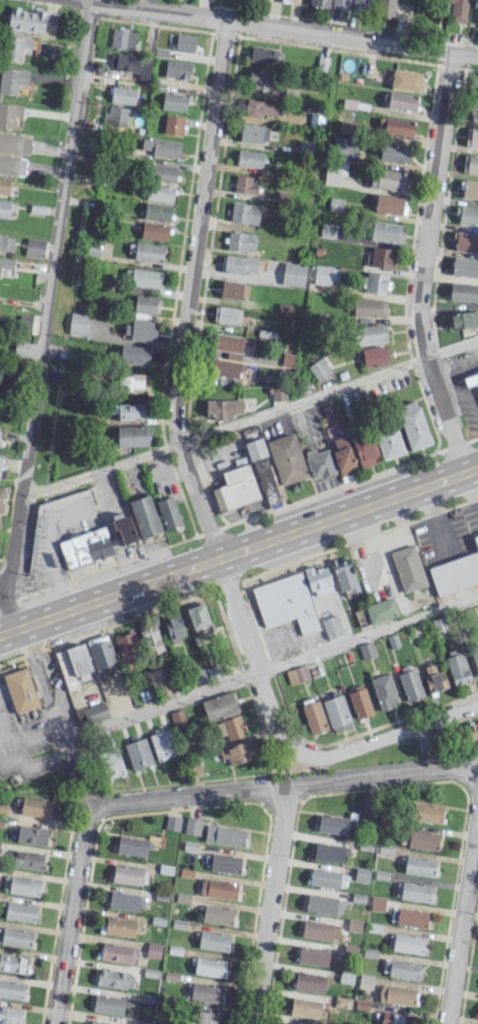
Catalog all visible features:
road: (102, 2)
building: (319, 3)
building: (340, 4)
building: (360, 5)
building: (385, 7)
building: (457, 10)
building: (30, 20)
road: (270, 26)
building: (122, 38)
building: (184, 43)
building: (16, 48)
building: (263, 54)
building: (130, 64)
building: (177, 69)
building: (12, 80)
building: (405, 80)
building: (258, 82)
building: (476, 89)
building: (122, 95)
building: (402, 100)
building: (174, 102)
building: (259, 108)
building: (474, 111)
building: (10, 115)
building: (115, 116)
building: (173, 125)
building: (396, 126)
building: (254, 133)
building: (472, 137)
building: (14, 143)
building: (161, 147)
building: (392, 152)
building: (249, 158)
building: (470, 164)
building: (12, 165)
building: (161, 172)
building: (392, 179)
building: (244, 184)
building: (4, 185)
building: (470, 189)
building: (160, 192)
building: (336, 204)
building: (388, 204)
building: (4, 208)
building: (156, 211)
building: (244, 213)
building: (466, 215)
building: (154, 231)
building: (386, 231)
building: (240, 241)
building: (6, 242)
building: (466, 242)
building: (34, 247)
building: (92, 248)
building: (146, 251)
building: (381, 257)
building: (6, 262)
building: (240, 264)
road: (426, 264)
building: (465, 267)
building: (293, 273)
building: (322, 274)
building: (142, 277)
building: (374, 283)
building: (233, 290)
building: (464, 292)
building: (145, 304)
road: (48, 307)
building: (369, 307)
building: (227, 315)
building: (462, 320)
building: (78, 324)
building: (138, 330)
building: (369, 334)
building: (230, 345)
building: (20, 348)
road: (452, 348)
building: (134, 354)
building: (373, 355)
road: (477, 358)
building: (288, 359)
road: (461, 364)
building: (320, 369)
building: (0, 371)
building: (471, 379)
building: (131, 381)
building: (277, 393)
road: (466, 393)
road: (177, 397)
road: (303, 399)
building: (329, 407)
building: (222, 408)
building: (130, 411)
building: (332, 424)
building: (412, 424)
building: (133, 436)
building: (388, 442)
building: (255, 448)
building: (365, 449)
building: (343, 456)
building: (287, 458)
building: (0, 460)
building: (319, 462)
road: (101, 468)
building: (235, 488)
building: (1, 497)
building: (169, 512)
building: (145, 516)
road: (56, 518)
building: (124, 529)
building: (476, 540)
building: (85, 547)
road: (238, 550)
building: (408, 568)
building: (455, 574)
building: (287, 603)
building: (381, 610)
building: (197, 615)
road: (5, 616)
building: (333, 627)
building: (174, 628)
building: (151, 639)
building: (127, 650)
building: (366, 650)
building: (101, 654)
building: (474, 656)
building: (79, 662)
road: (285, 662)
building: (456, 665)
building: (162, 681)
building: (435, 681)
building: (410, 682)
building: (20, 690)
building: (383, 691)
building: (359, 701)
building: (219, 706)
building: (91, 713)
building: (336, 713)
building: (177, 716)
building: (313, 717)
building: (233, 727)
road: (61, 731)
building: (471, 731)
road: (387, 734)
building: (162, 744)
building: (237, 752)
building: (137, 753)
building: (111, 763)
road: (295, 770)
road: (80, 780)
road: (283, 787)
building: (35, 807)
building: (3, 808)
building: (425, 812)
building: (173, 823)
building: (337, 824)
building: (193, 826)
building: (31, 834)
building: (224, 835)
building: (423, 840)
building: (133, 845)
building: (190, 846)
building: (330, 852)
building: (27, 860)
building: (225, 863)
building: (418, 866)
building: (166, 869)
building: (187, 872)
building: (361, 874)
building: (127, 875)
building: (327, 878)
building: (21, 885)
building: (218, 888)
building: (412, 891)
building: (126, 901)
building: (377, 903)
building: (324, 904)
road: (271, 905)
building: (19, 911)
road: (461, 913)
road: (72, 914)
building: (216, 915)
building: (411, 917)
building: (121, 927)
building: (319, 930)
building: (15, 937)
building: (213, 941)
building: (405, 943)
building: (153, 949)
building: (118, 953)
building: (314, 955)
building: (13, 963)
building: (210, 966)
building: (400, 968)
building: (114, 978)
building: (310, 981)
building: (365, 981)
building: (11, 989)
building: (203, 992)
building: (396, 994)
building: (108, 1004)
building: (305, 1007)
building: (9, 1015)
building: (204, 1017)
building: (392, 1018)
building: (101, 1022)
building: (289, 1023)

